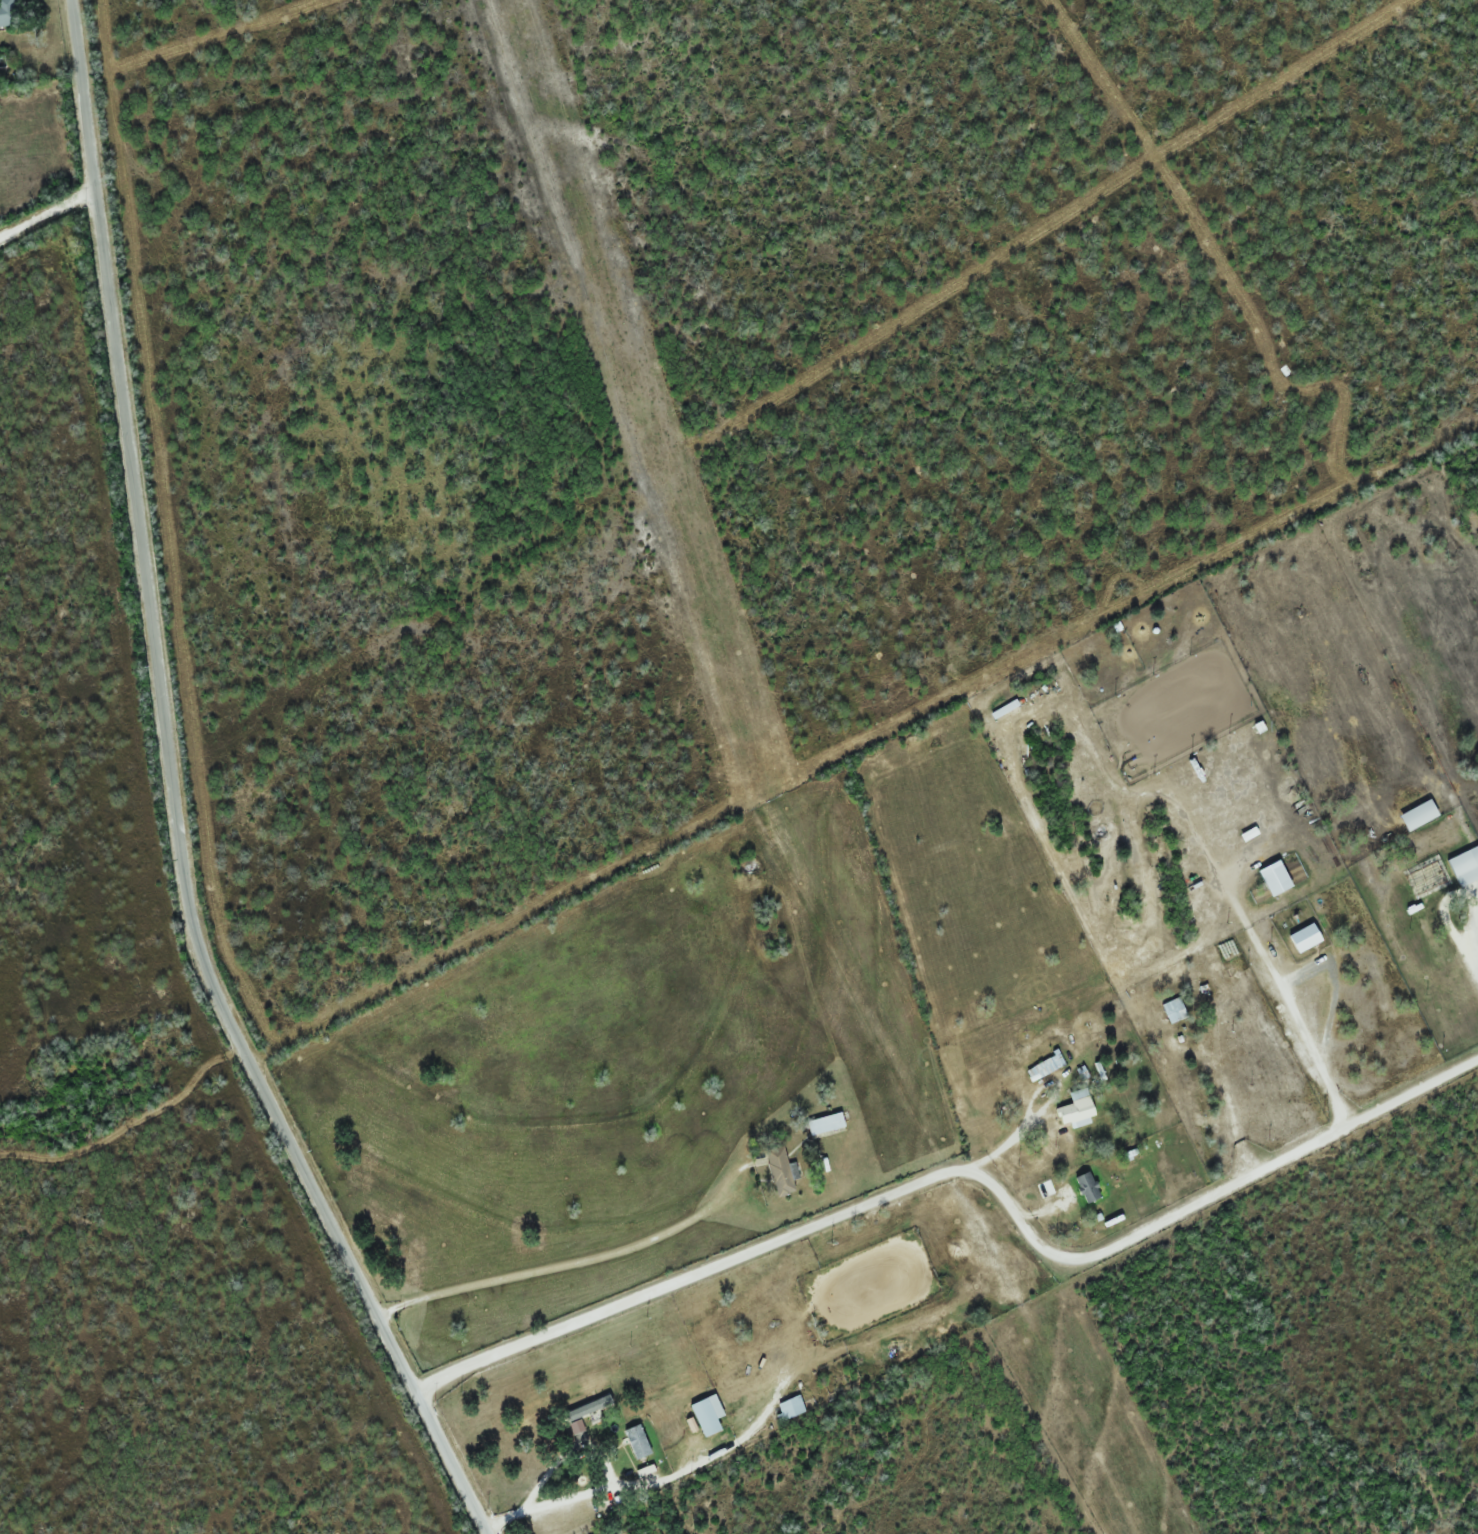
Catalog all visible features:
building: (8, 12)
road: (46, 217)
road: (172, 797)
building: (1420, 815)
building: (1465, 866)
building: (1306, 938)
building: (1174, 1010)
building: (1222, 1017)
building: (1077, 1108)
building: (826, 1124)
building: (782, 1171)
road: (967, 1171)
building: (1089, 1187)
road: (571, 1267)
building: (791, 1408)
building: (708, 1415)
road: (1042, 1421)
building: (638, 1442)

